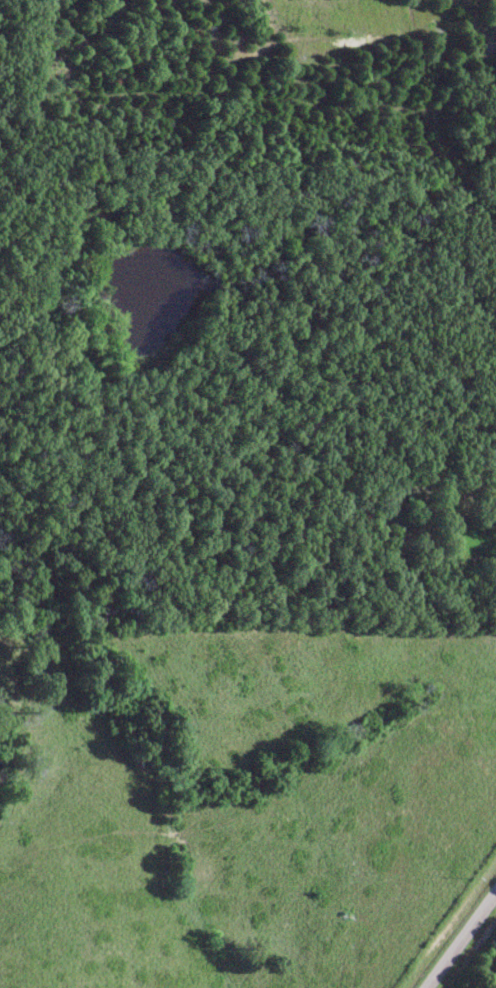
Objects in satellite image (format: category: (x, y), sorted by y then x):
road: (64, 904)
road: (460, 940)

